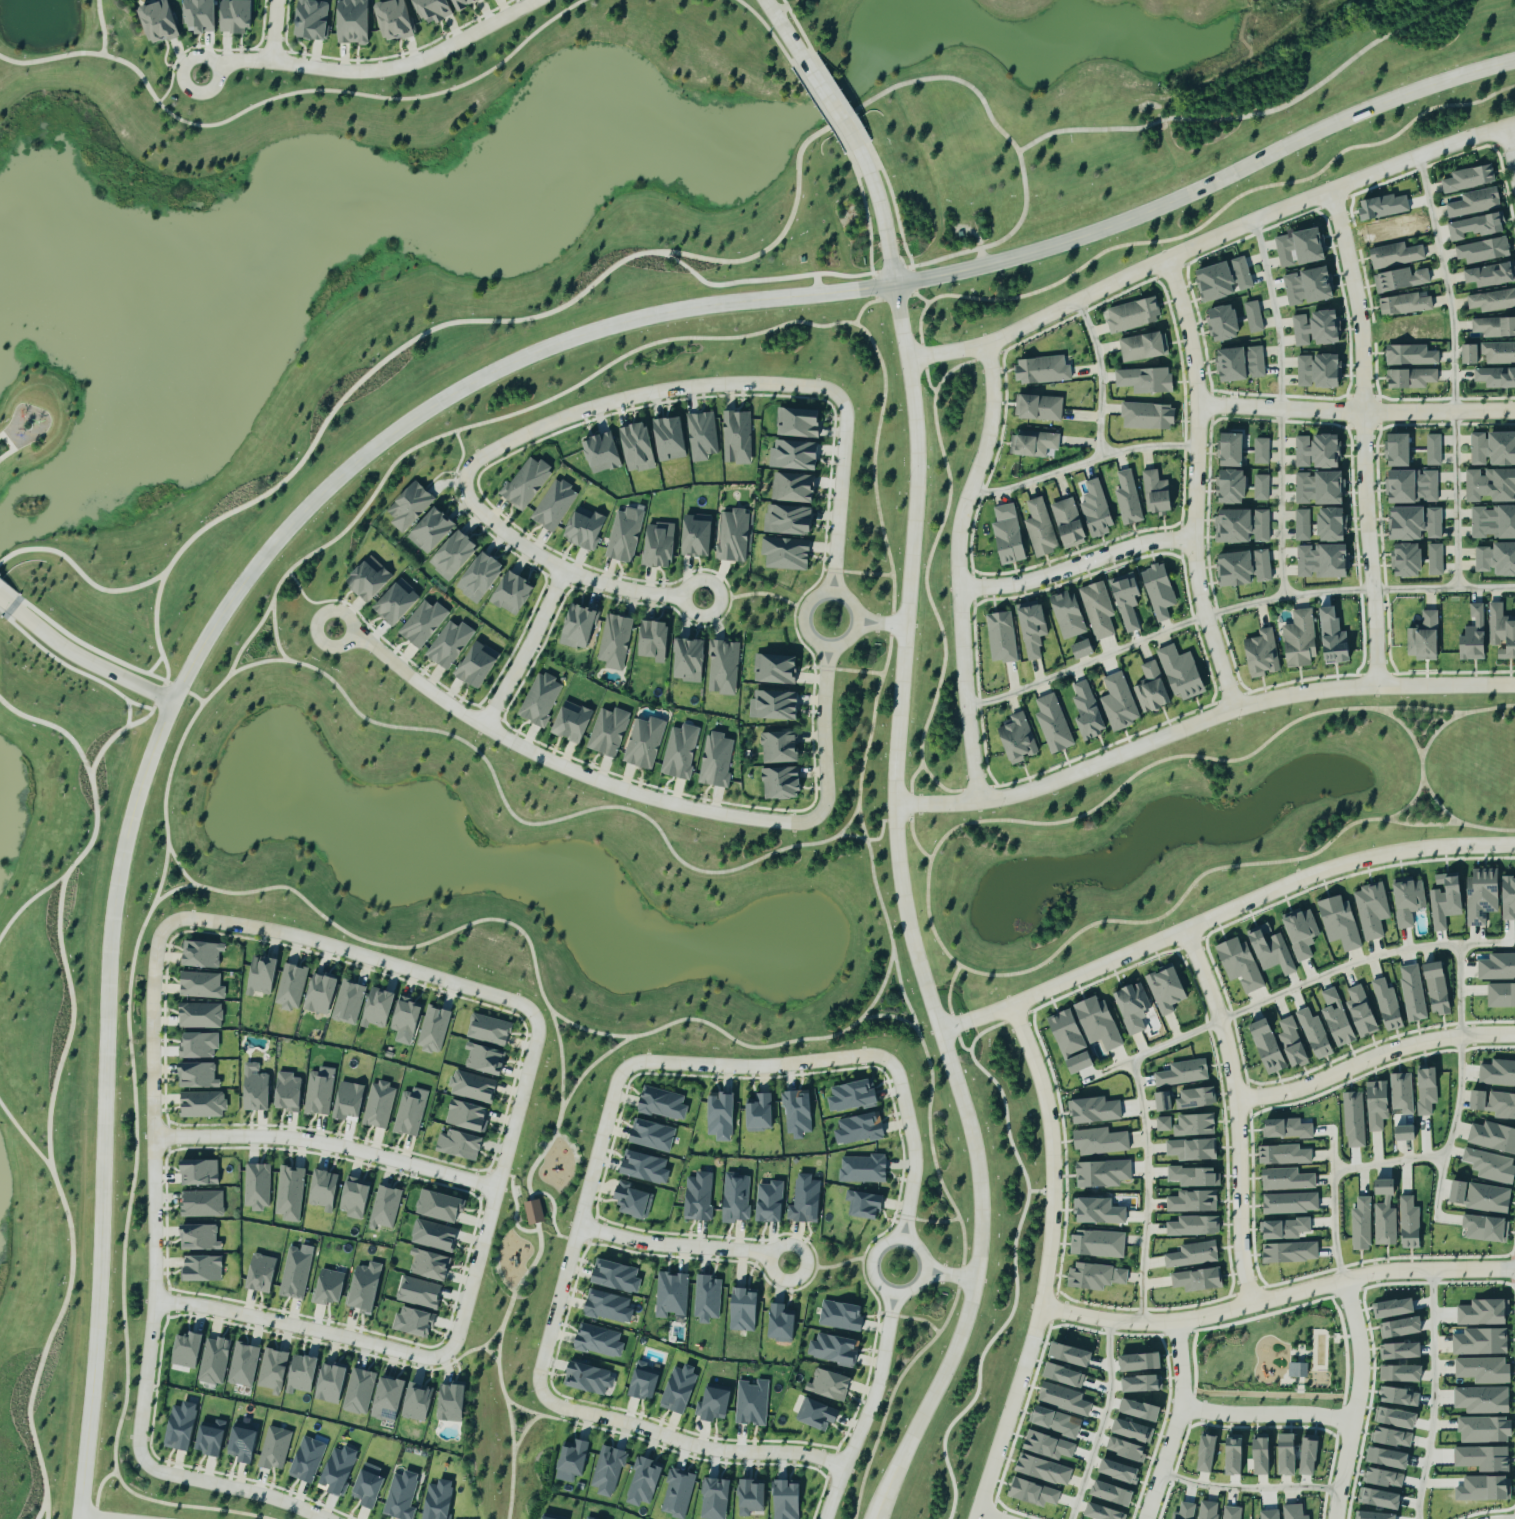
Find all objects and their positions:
building: (463, 3)
building: (432, 10)
building: (236, 15)
building: (200, 16)
building: (311, 19)
building: (395, 19)
building: (159, 21)
building: (354, 21)
road: (102, 26)
road: (783, 29)
road: (801, 29)
road: (274, 30)
road: (771, 31)
road: (373, 70)
park: (52, 73)
road: (1318, 82)
road: (287, 93)
road: (830, 103)
road: (1156, 121)
road: (1080, 128)
road: (1001, 130)
road: (1510, 150)
building: (1470, 178)
building: (1476, 202)
building: (1385, 207)
road: (880, 213)
road: (1201, 224)
building: (1477, 227)
road: (1209, 238)
road: (978, 242)
building: (1301, 248)
building: (1484, 250)
building: (1396, 255)
building: (1492, 275)
building: (1225, 279)
building: (1402, 280)
building: (1309, 287)
road: (897, 295)
road: (922, 297)
building: (1492, 301)
building: (1405, 305)
road: (862, 306)
building: (1133, 315)
building: (1253, 317)
building: (1224, 323)
building: (1328, 327)
building: (1494, 327)
road: (766, 329)
building: (1302, 330)
building: (1143, 347)
building: (1499, 353)
building: (1471, 354)
building: (1411, 355)
building: (1042, 370)
building: (1305, 371)
building: (1329, 371)
road: (1453, 371)
road: (926, 374)
road: (1100, 377)
building: (1413, 378)
building: (1496, 378)
building: (1146, 380)
road: (737, 383)
road: (1280, 407)
building: (1038, 408)
road: (1356, 412)
building: (1148, 416)
building: (798, 423)
road: (396, 427)
building: (702, 436)
road: (1362, 436)
building: (736, 438)
building: (670, 439)
building: (1034, 444)
road: (9, 447)
building: (637, 448)
building: (1493, 449)
building: (1232, 450)
building: (1434, 450)
building: (1261, 451)
building: (1328, 451)
building: (1400, 451)
building: (1303, 452)
building: (602, 453)
road: (461, 455)
building: (794, 456)
road: (1080, 463)
road: (446, 482)
building: (526, 483)
road: (1194, 484)
building: (1430, 486)
building: (1491, 486)
building: (1232, 487)
building: (1261, 487)
building: (1403, 487)
building: (793, 488)
building: (1320, 488)
building: (1157, 493)
building: (553, 505)
building: (409, 506)
building: (1096, 509)
building: (788, 520)
building: (1069, 523)
building: (1493, 523)
building: (1417, 524)
building: (1303, 525)
building: (1333, 525)
building: (1262, 526)
building: (1234, 527)
building: (585, 528)
building: (1040, 529)
building: (431, 531)
building: (624, 535)
building: (1009, 535)
building: (697, 536)
building: (733, 536)
building: (658, 546)
building: (785, 554)
building: (453, 556)
building: (1436, 560)
building: (1497, 560)
building: (1408, 561)
building: (1323, 562)
road: (1076, 564)
building: (1244, 569)
road: (566, 570)
road: (960, 570)
road: (863, 571)
road: (926, 575)
building: (480, 578)
building: (369, 579)
road: (754, 592)
building: (1160, 592)
building: (513, 594)
road: (841, 594)
building: (1127, 600)
road: (312, 601)
road: (5, 602)
building: (396, 603)
road: (1232, 609)
building: (1098, 610)
road: (347, 612)
building: (1068, 615)
road: (881, 620)
building: (423, 623)
building: (578, 627)
building: (1034, 629)
road: (275, 631)
building: (1488, 634)
road: (248, 636)
building: (1002, 637)
building: (1425, 638)
building: (1334, 639)
building: (1300, 640)
building: (653, 641)
building: (614, 642)
building: (449, 644)
road: (524, 648)
building: (1084, 650)
building: (1263, 654)
road: (86, 661)
road: (256, 661)
building: (688, 661)
building: (476, 666)
building: (723, 668)
building: (775, 669)
road: (854, 669)
building: (1182, 673)
building: (1152, 690)
building: (539, 699)
building: (1119, 703)
building: (774, 705)
building: (1088, 712)
road: (1199, 722)
building: (572, 723)
building: (1053, 725)
road: (1405, 726)
road: (1438, 729)
building: (608, 732)
road: (823, 732)
building: (1018, 740)
building: (643, 743)
building: (779, 748)
building: (679, 752)
building: (715, 760)
road: (558, 765)
road: (1422, 766)
road: (911, 781)
building: (781, 784)
road: (1439, 802)
road: (1409, 803)
road: (902, 819)
road: (544, 821)
road: (849, 821)
road: (861, 822)
road: (882, 828)
road: (912, 833)
road: (852, 834)
road: (177, 864)
road: (173, 888)
building: (1483, 896)
road: (28, 899)
building: (1508, 899)
building: (1409, 900)
building: (1447, 900)
road: (927, 901)
building: (1373, 910)
road: (1221, 913)
road: (904, 914)
building: (1340, 922)
building: (1301, 932)
building: (1272, 950)
road: (351, 951)
building: (202, 953)
road: (533, 957)
building: (1241, 964)
building: (262, 975)
building: (201, 985)
building: (291, 986)
road: (881, 987)
building: (1167, 988)
road: (1293, 988)
building: (1439, 988)
building: (1413, 992)
building: (321, 993)
building: (1501, 994)
building: (348, 1002)
building: (1389, 1005)
building: (1133, 1007)
building: (378, 1008)
road: (949, 1009)
building: (1362, 1011)
road: (889, 1014)
building: (200, 1015)
building: (1338, 1017)
building: (405, 1020)
building: (1099, 1022)
building: (433, 1029)
building: (489, 1029)
building: (1316, 1034)
building: (1071, 1040)
building: (1293, 1042)
building: (198, 1045)
building: (1269, 1045)
road: (927, 1056)
road: (561, 1057)
road: (1372, 1057)
building: (484, 1059)
road: (592, 1064)
road: (760, 1065)
building: (1183, 1072)
building: (1498, 1073)
building: (197, 1075)
road: (1460, 1078)
building: (472, 1087)
building: (255, 1088)
building: (1427, 1090)
building: (287, 1091)
building: (319, 1091)
building: (1403, 1092)
road: (52, 1093)
building: (852, 1095)
building: (1197, 1097)
building: (349, 1101)
building: (1164, 1101)
building: (1495, 1103)
building: (202, 1104)
building: (662, 1104)
building: (1378, 1104)
building: (378, 1105)
building: (1095, 1109)
building: (410, 1112)
building: (760, 1112)
building: (797, 1112)
road: (1236, 1113)
building: (466, 1115)
building: (721, 1116)
building: (1354, 1119)
building: (1164, 1124)
building: (1195, 1124)
building: (859, 1128)
building: (1290, 1128)
building: (1408, 1132)
building: (652, 1135)
road: (24, 1136)
building: (1493, 1136)
building: (1101, 1141)
road: (599, 1142)
road: (569, 1143)
building: (459, 1144)
road: (324, 1145)
road: (135, 1147)
building: (1193, 1149)
road: (912, 1150)
building: (1284, 1154)
road: (1017, 1157)
road: (1388, 1162)
building: (1490, 1165)
building: (645, 1167)
building: (863, 1169)
building: (199, 1172)
building: (1103, 1173)
building: (1194, 1176)
building: (1287, 1179)
building: (256, 1186)
road: (494, 1186)
road: (152, 1187)
building: (324, 1190)
road: (1040, 1190)
road: (1146, 1190)
building: (289, 1193)
building: (699, 1197)
building: (1483, 1197)
building: (355, 1198)
building: (736, 1198)
building: (632, 1200)
building: (805, 1200)
building: (770, 1201)
building: (1193, 1201)
road: (516, 1203)
building: (1291, 1203)
building: (202, 1204)
building: (864, 1204)
building: (439, 1206)
building: (384, 1207)
building: (1099, 1210)
road: (1333, 1210)
building: (534, 1212)
road: (552, 1212)
building: (1385, 1213)
road: (933, 1220)
building: (1410, 1223)
building: (1362, 1224)
building: (1194, 1225)
building: (1286, 1228)
building: (1486, 1228)
building: (434, 1235)
building: (199, 1237)
building: (1098, 1243)
road: (681, 1245)
building: (1290, 1252)
building: (1193, 1254)
building: (430, 1264)
road: (1046, 1264)
road: (830, 1265)
building: (202, 1268)
building: (261, 1273)
building: (295, 1273)
road: (499, 1274)
road: (947, 1275)
building: (616, 1276)
building: (1096, 1276)
building: (1198, 1279)
building: (329, 1287)
building: (365, 1288)
building: (419, 1292)
road: (901, 1293)
building: (671, 1294)
road: (1277, 1298)
building: (707, 1299)
road: (509, 1305)
building: (608, 1307)
building: (1395, 1308)
road: (554, 1310)
building: (743, 1310)
building: (1484, 1312)
building: (841, 1315)
road: (915, 1317)
building: (413, 1321)
building: (781, 1324)
road: (295, 1325)
building: (1402, 1327)
building: (598, 1341)
building: (1481, 1341)
building: (834, 1349)
building: (187, 1350)
building: (1402, 1350)
building: (1072, 1354)
park: (1273, 1358)
building: (214, 1361)
building: (1142, 1361)
building: (1411, 1361)
building: (243, 1364)
building: (272, 1370)
building: (1298, 1370)
building: (1485, 1370)
building: (1404, 1373)
building: (301, 1374)
building: (1064, 1374)
building: (589, 1378)
building: (645, 1381)
building: (331, 1383)
building: (1143, 1383)
building: (829, 1384)
building: (680, 1388)
road: (892, 1390)
building: (358, 1391)
road: (1428, 1395)
building: (1400, 1396)
building: (388, 1399)
building: (1064, 1399)
road: (1357, 1400)
building: (1483, 1400)
building: (418, 1402)
building: (752, 1402)
building: (451, 1403)
building: (714, 1405)
road: (866, 1407)
building: (1141, 1409)
road: (1267, 1411)
building: (816, 1414)
building: (1397, 1417)
building: (1055, 1421)
road: (1102, 1421)
road: (1178, 1423)
building: (181, 1426)
building: (1485, 1430)
building: (1133, 1431)
building: (1393, 1437)
building: (211, 1438)
building: (242, 1444)
road: (689, 1445)
building: (1049, 1445)
building: (274, 1448)
building: (1127, 1449)
building: (1209, 1453)
building: (1250, 1454)
building: (1290, 1454)
building: (1310, 1456)
building: (1390, 1457)
building: (1483, 1458)
building: (307, 1460)
building: (572, 1460)
building: (1044, 1469)
building: (338, 1470)
building: (607, 1471)
building: (1121, 1471)
building: (1385, 1477)
building: (643, 1482)
building: (368, 1486)
road: (1249, 1488)
building: (1488, 1488)
road: (228, 1489)
building: (677, 1493)
building: (1033, 1493)
building: (1114, 1493)
building: (401, 1496)
building: (751, 1496)
building: (1381, 1498)
building: (715, 1499)
building: (786, 1499)
building: (439, 1500)
building: (1111, 1504)
road: (41, 1509)
building: (1209, 1510)
building: (1186, 1511)
building: (1104, 1512)
building: (1295, 1512)
building: (1232, 1513)
building: (1270, 1514)
road: (987, 1515)
building: (1376, 1515)
road: (86, 1518)
building: (546, 1518)
building: (587, 1518)

